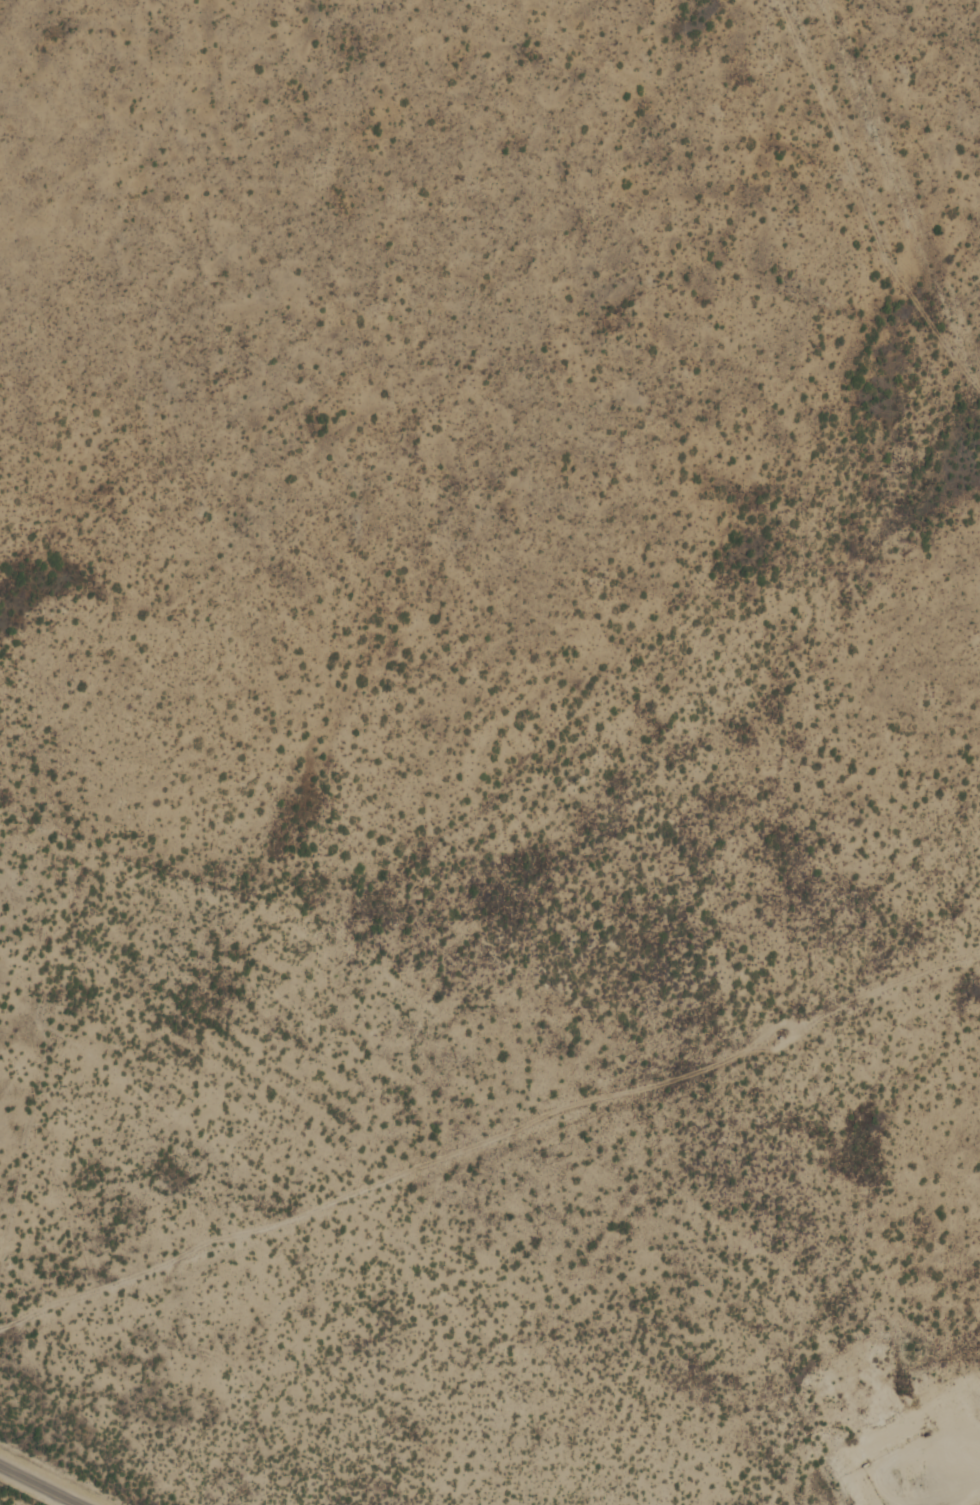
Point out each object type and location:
road: (865, 205)
road: (41, 1484)

